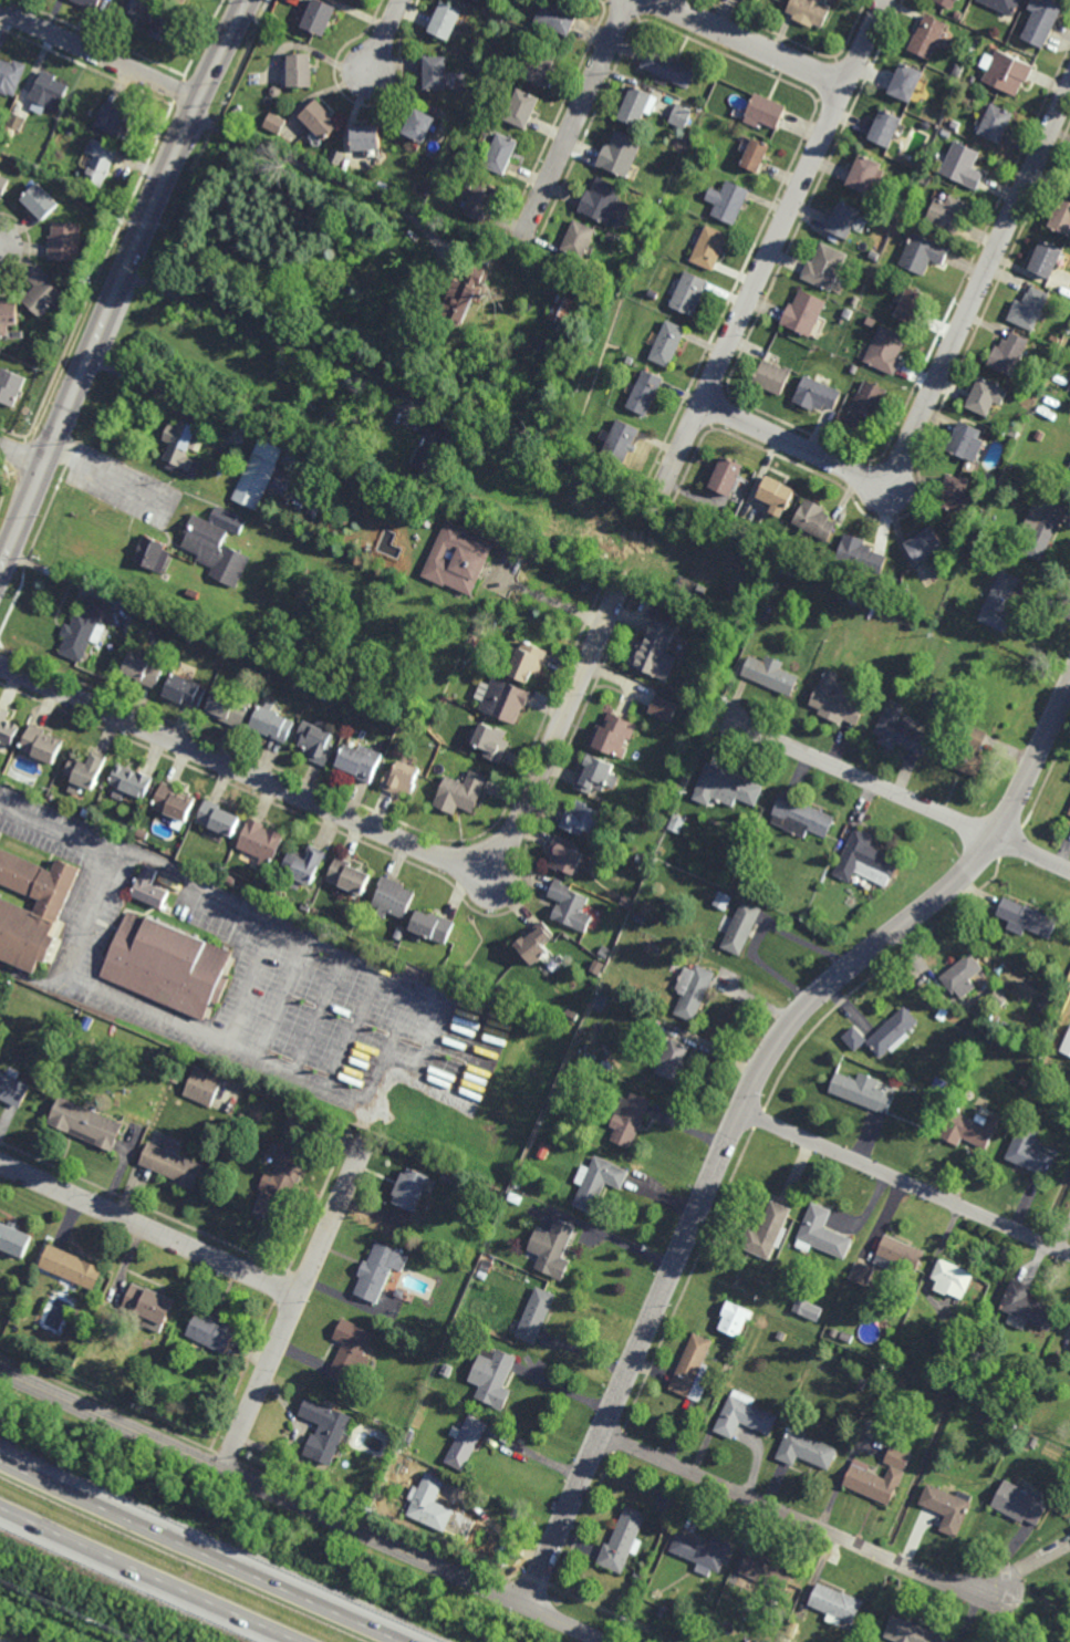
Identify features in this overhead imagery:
building: (758, 0)
building: (956, 0)
building: (177, 2)
building: (946, 2)
building: (89, 3)
building: (1001, 6)
building: (135, 8)
building: (809, 11)
building: (957, 14)
building: (320, 17)
building: (558, 17)
building: (447, 18)
building: (1041, 21)
building: (164, 24)
road: (384, 35)
building: (926, 37)
building: (973, 37)
building: (272, 38)
road: (749, 43)
road: (100, 54)
building: (539, 63)
building: (479, 66)
building: (300, 67)
building: (669, 69)
building: (957, 70)
building: (1006, 71)
building: (436, 72)
building: (11, 75)
building: (973, 77)
building: (906, 81)
building: (50, 90)
building: (635, 105)
building: (522, 107)
building: (767, 111)
building: (682, 115)
building: (115, 118)
building: (320, 118)
building: (17, 121)
road: (576, 121)
building: (274, 123)
building: (422, 123)
building: (996, 123)
building: (955, 125)
building: (926, 126)
building: (885, 127)
building: (13, 135)
building: (367, 136)
building: (501, 153)
building: (621, 154)
building: (757, 154)
building: (98, 162)
building: (963, 166)
road: (319, 172)
building: (865, 173)
building: (1069, 176)
building: (925, 179)
building: (3, 184)
building: (43, 199)
building: (481, 199)
building: (729, 201)
building: (604, 202)
building: (948, 212)
building: (1061, 217)
building: (843, 219)
building: (612, 238)
building: (579, 239)
road: (776, 240)
building: (65, 241)
building: (710, 248)
building: (923, 253)
building: (874, 254)
building: (1046, 259)
building: (824, 267)
road: (123, 281)
building: (42, 292)
building: (690, 293)
building: (654, 295)
building: (463, 297)
building: (855, 301)
building: (912, 305)
building: (1029, 309)
building: (562, 310)
building: (804, 313)
building: (846, 313)
building: (9, 314)
building: (870, 322)
road: (267, 334)
building: (1055, 340)
building: (669, 344)
building: (885, 351)
building: (1009, 354)
building: (853, 370)
road: (938, 373)
building: (773, 377)
building: (11, 387)
building: (646, 393)
building: (818, 395)
building: (986, 396)
building: (865, 405)
building: (841, 417)
building: (1014, 434)
building: (1039, 435)
building: (181, 441)
building: (622, 441)
building: (967, 441)
building: (432, 453)
road: (20, 456)
building: (1069, 468)
road: (104, 475)
building: (258, 475)
building: (728, 477)
building: (990, 478)
building: (956, 493)
building: (778, 496)
building: (816, 521)
building: (1041, 527)
building: (479, 530)
building: (218, 545)
building: (924, 545)
building: (152, 554)
building: (824, 554)
building: (861, 557)
building: (459, 560)
building: (905, 592)
building: (193, 595)
building: (911, 599)
road: (551, 601)
building: (853, 601)
building: (1000, 603)
building: (766, 616)
building: (149, 619)
building: (710, 626)
building: (85, 631)
building: (188, 641)
building: (657, 652)
building: (526, 663)
building: (144, 671)
building: (479, 673)
building: (772, 676)
building: (185, 692)
building: (323, 693)
building: (943, 698)
building: (503, 700)
building: (837, 700)
building: (228, 708)
building: (663, 708)
building: (272, 725)
building: (8, 729)
building: (900, 729)
building: (614, 735)
building: (316, 741)
building: (492, 741)
building: (43, 744)
building: (966, 754)
building: (360, 761)
building: (86, 768)
building: (595, 772)
building: (402, 778)
building: (129, 781)
building: (729, 784)
building: (461, 792)
road: (896, 793)
building: (52, 797)
building: (174, 801)
building: (1069, 811)
building: (86, 813)
building: (801, 815)
building: (582, 817)
building: (219, 818)
building: (137, 821)
building: (678, 822)
road: (377, 830)
building: (128, 833)
building: (142, 834)
building: (261, 842)
building: (758, 850)
building: (565, 854)
building: (865, 858)
building: (303, 866)
building: (350, 876)
building: (232, 880)
building: (150, 887)
building: (393, 897)
building: (627, 901)
building: (723, 901)
building: (54, 904)
building: (571, 907)
building: (307, 908)
building: (816, 912)
road: (85, 914)
building: (1027, 917)
building: (640, 918)
building: (434, 925)
building: (744, 926)
building: (536, 942)
building: (604, 954)
building: (169, 965)
building: (598, 967)
building: (962, 975)
road: (248, 984)
building: (449, 987)
building: (694, 990)
building: (602, 1004)
building: (1046, 1004)
road: (402, 1014)
building: (943, 1014)
building: (572, 1015)
building: (892, 1030)
building: (853, 1037)
building: (1067, 1043)
building: (675, 1059)
building: (580, 1067)
building: (1032, 1068)
building: (1041, 1077)
building: (176, 1078)
building: (204, 1085)
building: (938, 1085)
building: (13, 1089)
building: (861, 1091)
building: (932, 1101)
road: (744, 1105)
building: (240, 1118)
building: (631, 1119)
building: (86, 1123)
building: (298, 1123)
building: (967, 1129)
building: (1029, 1152)
building: (173, 1162)
building: (450, 1178)
building: (599, 1182)
road: (905, 1183)
building: (518, 1184)
building: (280, 1187)
building: (411, 1189)
building: (516, 1198)
road: (149, 1229)
building: (769, 1231)
building: (822, 1234)
building: (14, 1240)
building: (553, 1249)
building: (897, 1254)
building: (72, 1267)
building: (487, 1267)
building: (380, 1270)
building: (862, 1274)
building: (952, 1278)
road: (294, 1305)
building: (150, 1306)
building: (808, 1307)
building: (1026, 1307)
building: (83, 1314)
building: (537, 1317)
building: (736, 1319)
building: (100, 1321)
building: (404, 1330)
building: (212, 1332)
building: (834, 1332)
building: (781, 1336)
building: (845, 1336)
building: (387, 1337)
building: (350, 1352)
building: (988, 1360)
building: (694, 1369)
building: (448, 1371)
building: (494, 1378)
building: (861, 1383)
building: (745, 1416)
building: (995, 1421)
building: (325, 1430)
building: (991, 1430)
building: (411, 1436)
building: (466, 1441)
building: (1033, 1442)
building: (806, 1449)
building: (862, 1474)
building: (1022, 1501)
building: (430, 1503)
building: (947, 1506)
road: (302, 1507)
road: (800, 1520)
building: (624, 1540)
building: (703, 1550)
road: (202, 1551)
building: (769, 1570)
road: (150, 1575)
building: (640, 1576)
building: (835, 1603)
building: (664, 1612)
park: (48, 1621)
power tower: (102, 1623)
building: (911, 1631)
building: (790, 1635)
road: (0, 1641)

